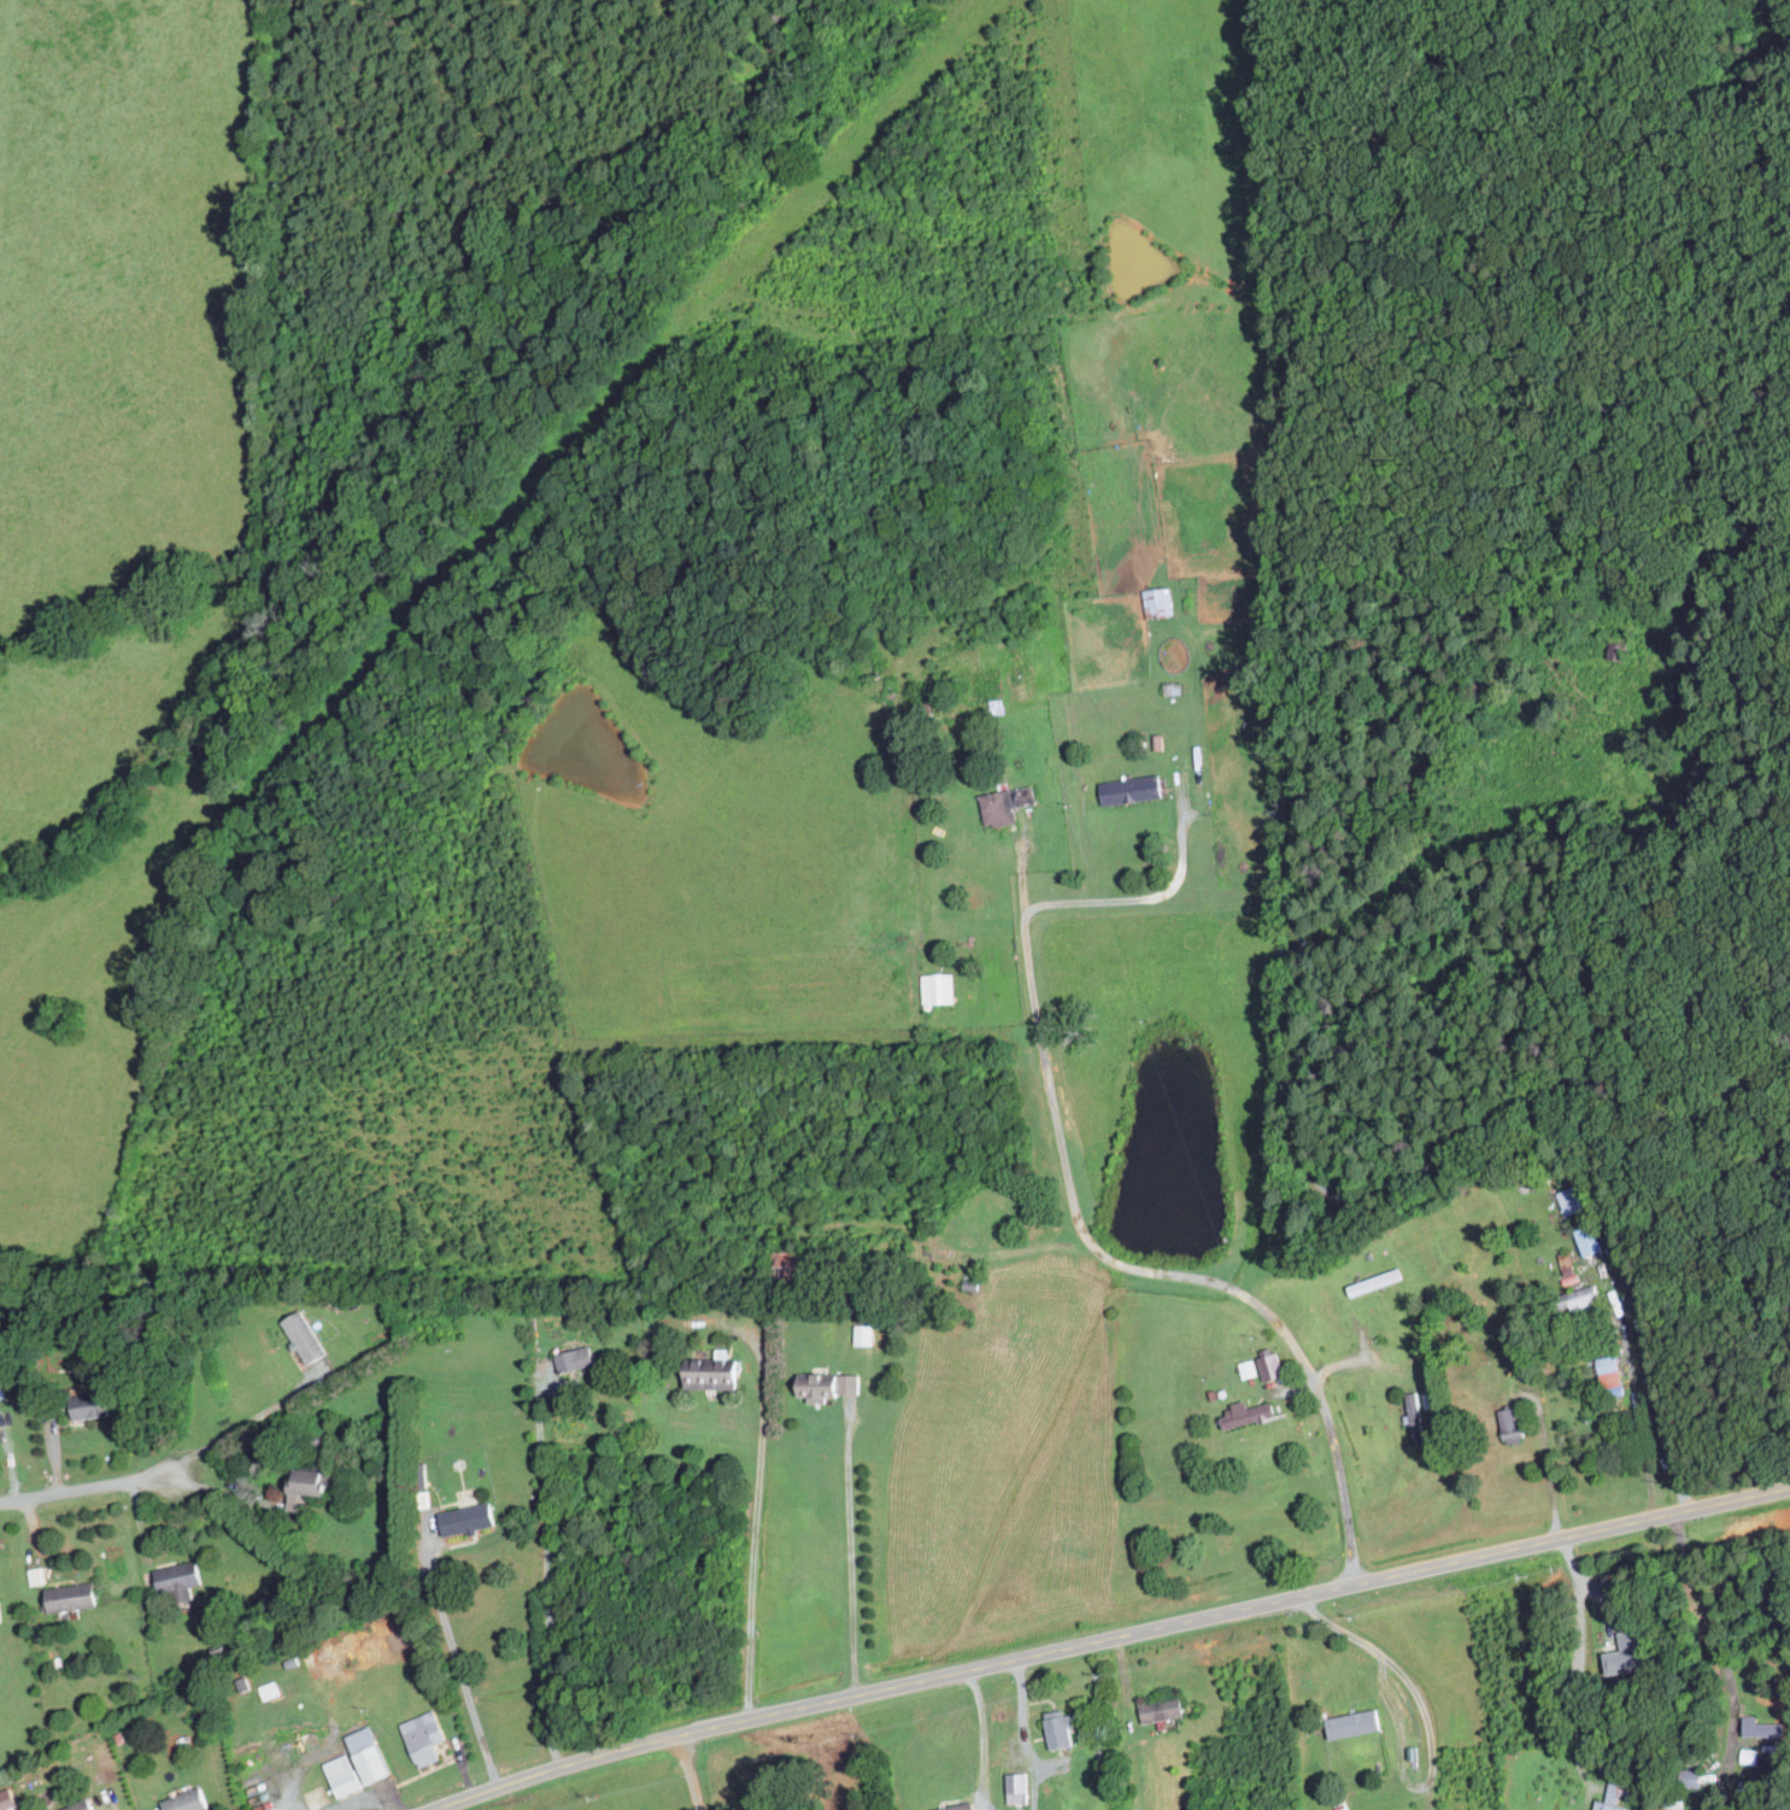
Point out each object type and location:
road: (1439, 78)
building: (1158, 601)
building: (1131, 789)
building: (1006, 804)
road: (1150, 898)
building: (938, 988)
road: (1314, 1108)
road: (1713, 1115)
building: (1572, 1199)
building: (1590, 1238)
road: (1156, 1272)
building: (1584, 1298)
building: (329, 1304)
building: (864, 1334)
building: (305, 1335)
building: (577, 1358)
building: (1270, 1365)
building: (1248, 1367)
building: (1609, 1370)
building: (715, 1371)
building: (849, 1382)
building: (817, 1386)
building: (93, 1404)
building: (1248, 1413)
road: (1637, 1414)
building: (1418, 1421)
road: (240, 1423)
building: (1512, 1423)
building: (322, 1435)
road: (1548, 1466)
building: (310, 1482)
road: (83, 1490)
building: (466, 1518)
road: (756, 1518)
road: (851, 1548)
road: (547, 1571)
building: (37, 1575)
building: (182, 1578)
building: (74, 1595)
building: (1, 1611)
road: (1111, 1639)
road: (1718, 1639)
building: (219, 1651)
building: (1631, 1652)
road: (457, 1658)
building: (293, 1662)
road: (1581, 1662)
building: (245, 1683)
building: (271, 1689)
building: (1162, 1709)
road: (1020, 1721)
building: (1354, 1722)
building: (1761, 1727)
building: (1060, 1728)
road: (979, 1729)
building: (427, 1735)
road: (1424, 1738)
building: (372, 1753)
road: (689, 1773)
building: (345, 1774)
building: (1691, 1777)
building: (1017, 1787)
building: (6, 1799)
building: (188, 1800)
road: (357, 1800)
road: (116, 1804)
building: (82, 1805)
building: (958, 1806)

